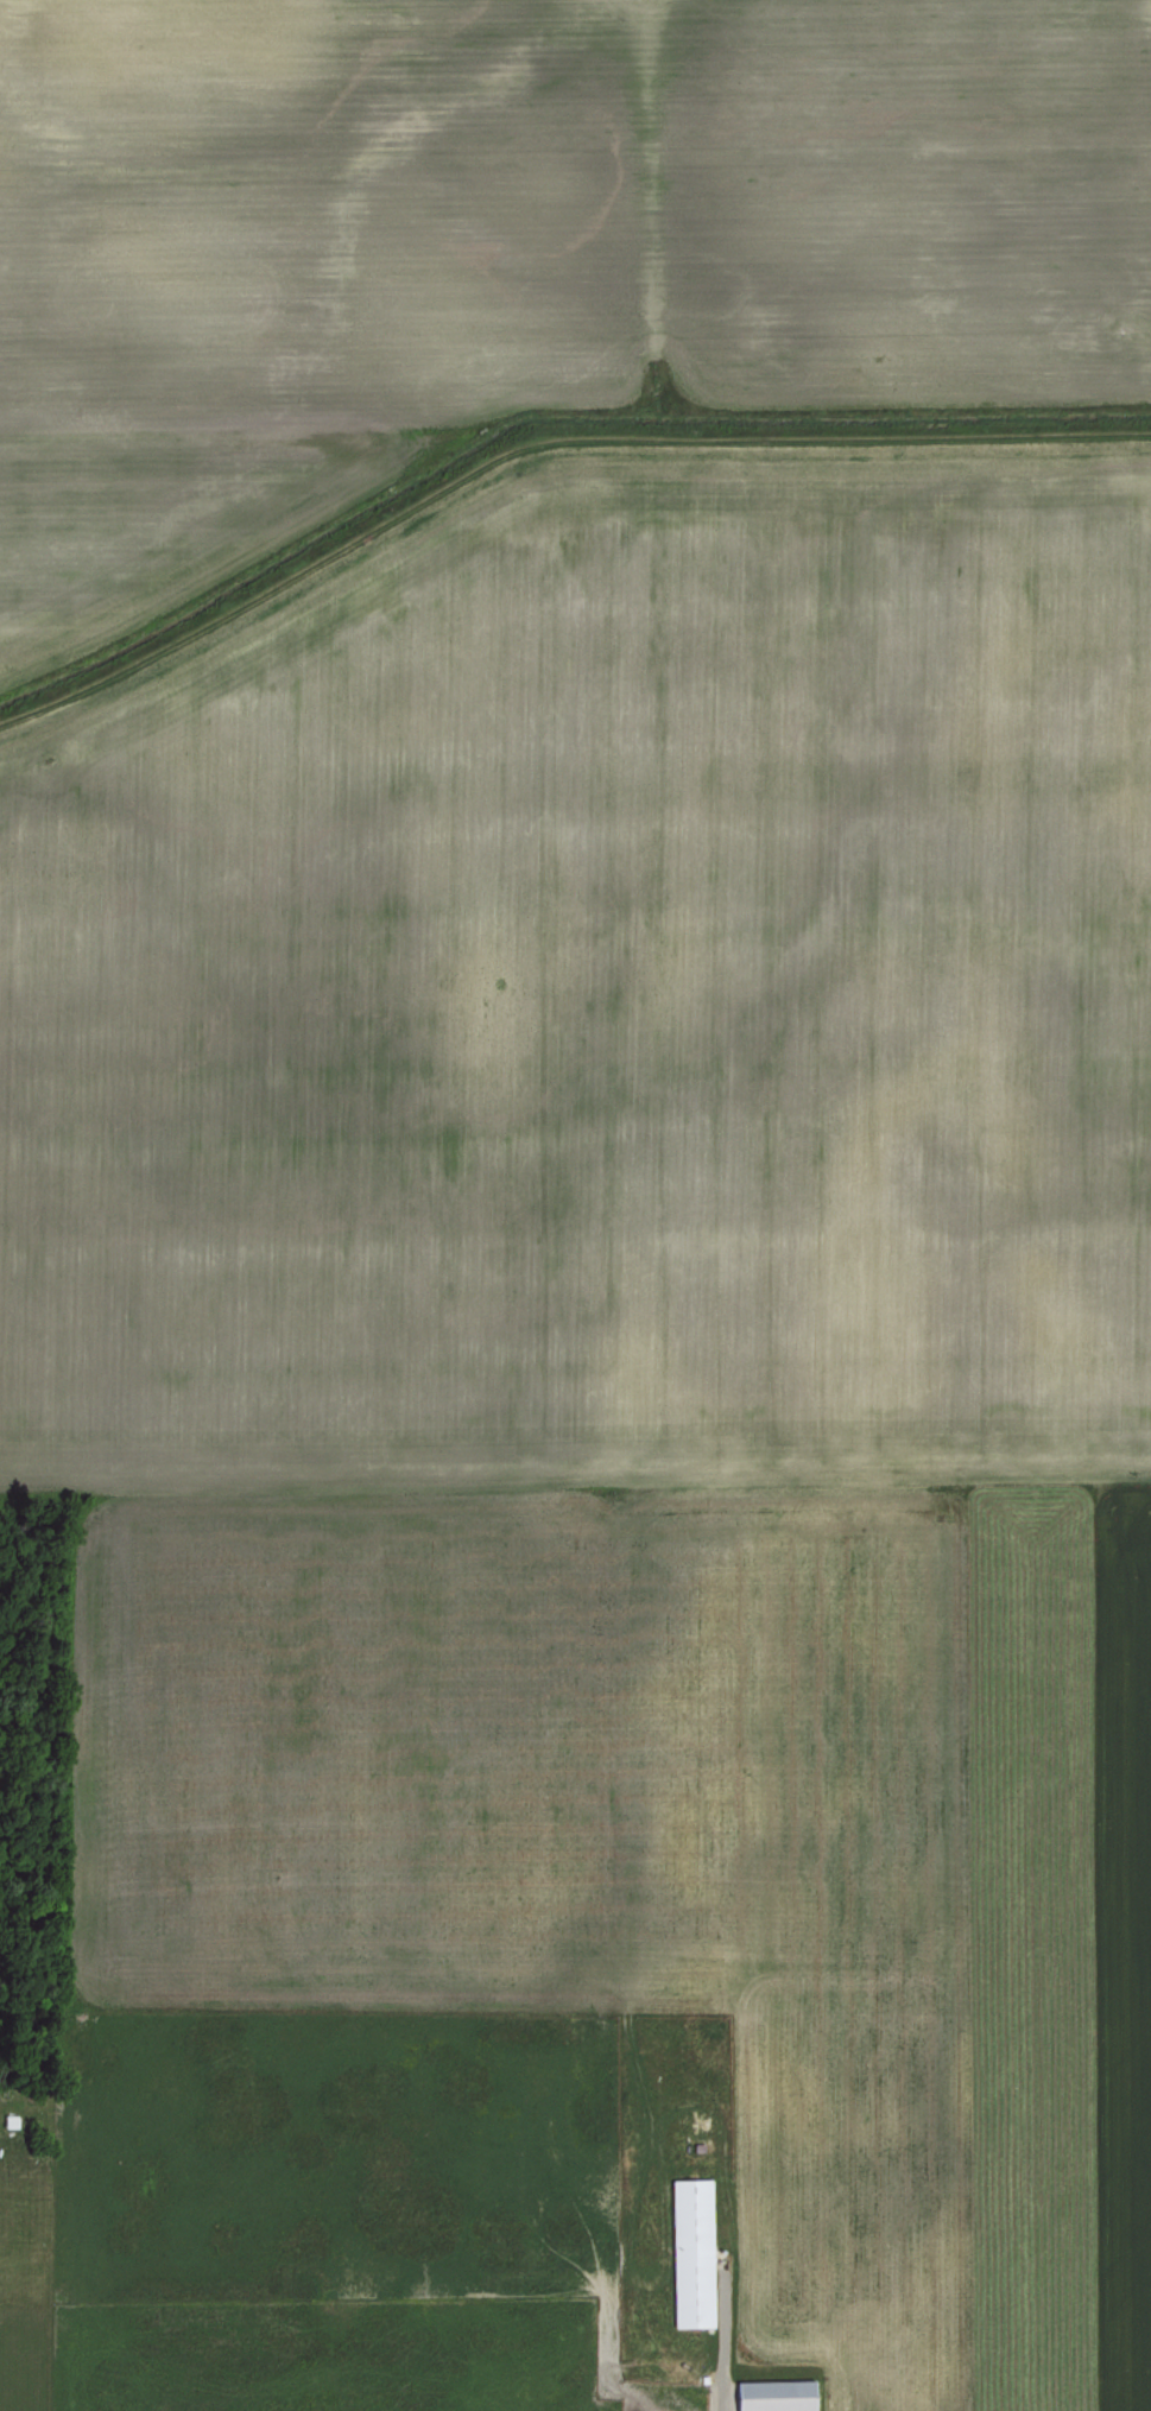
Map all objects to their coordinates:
building: (691, 2252)
building: (774, 2394)

